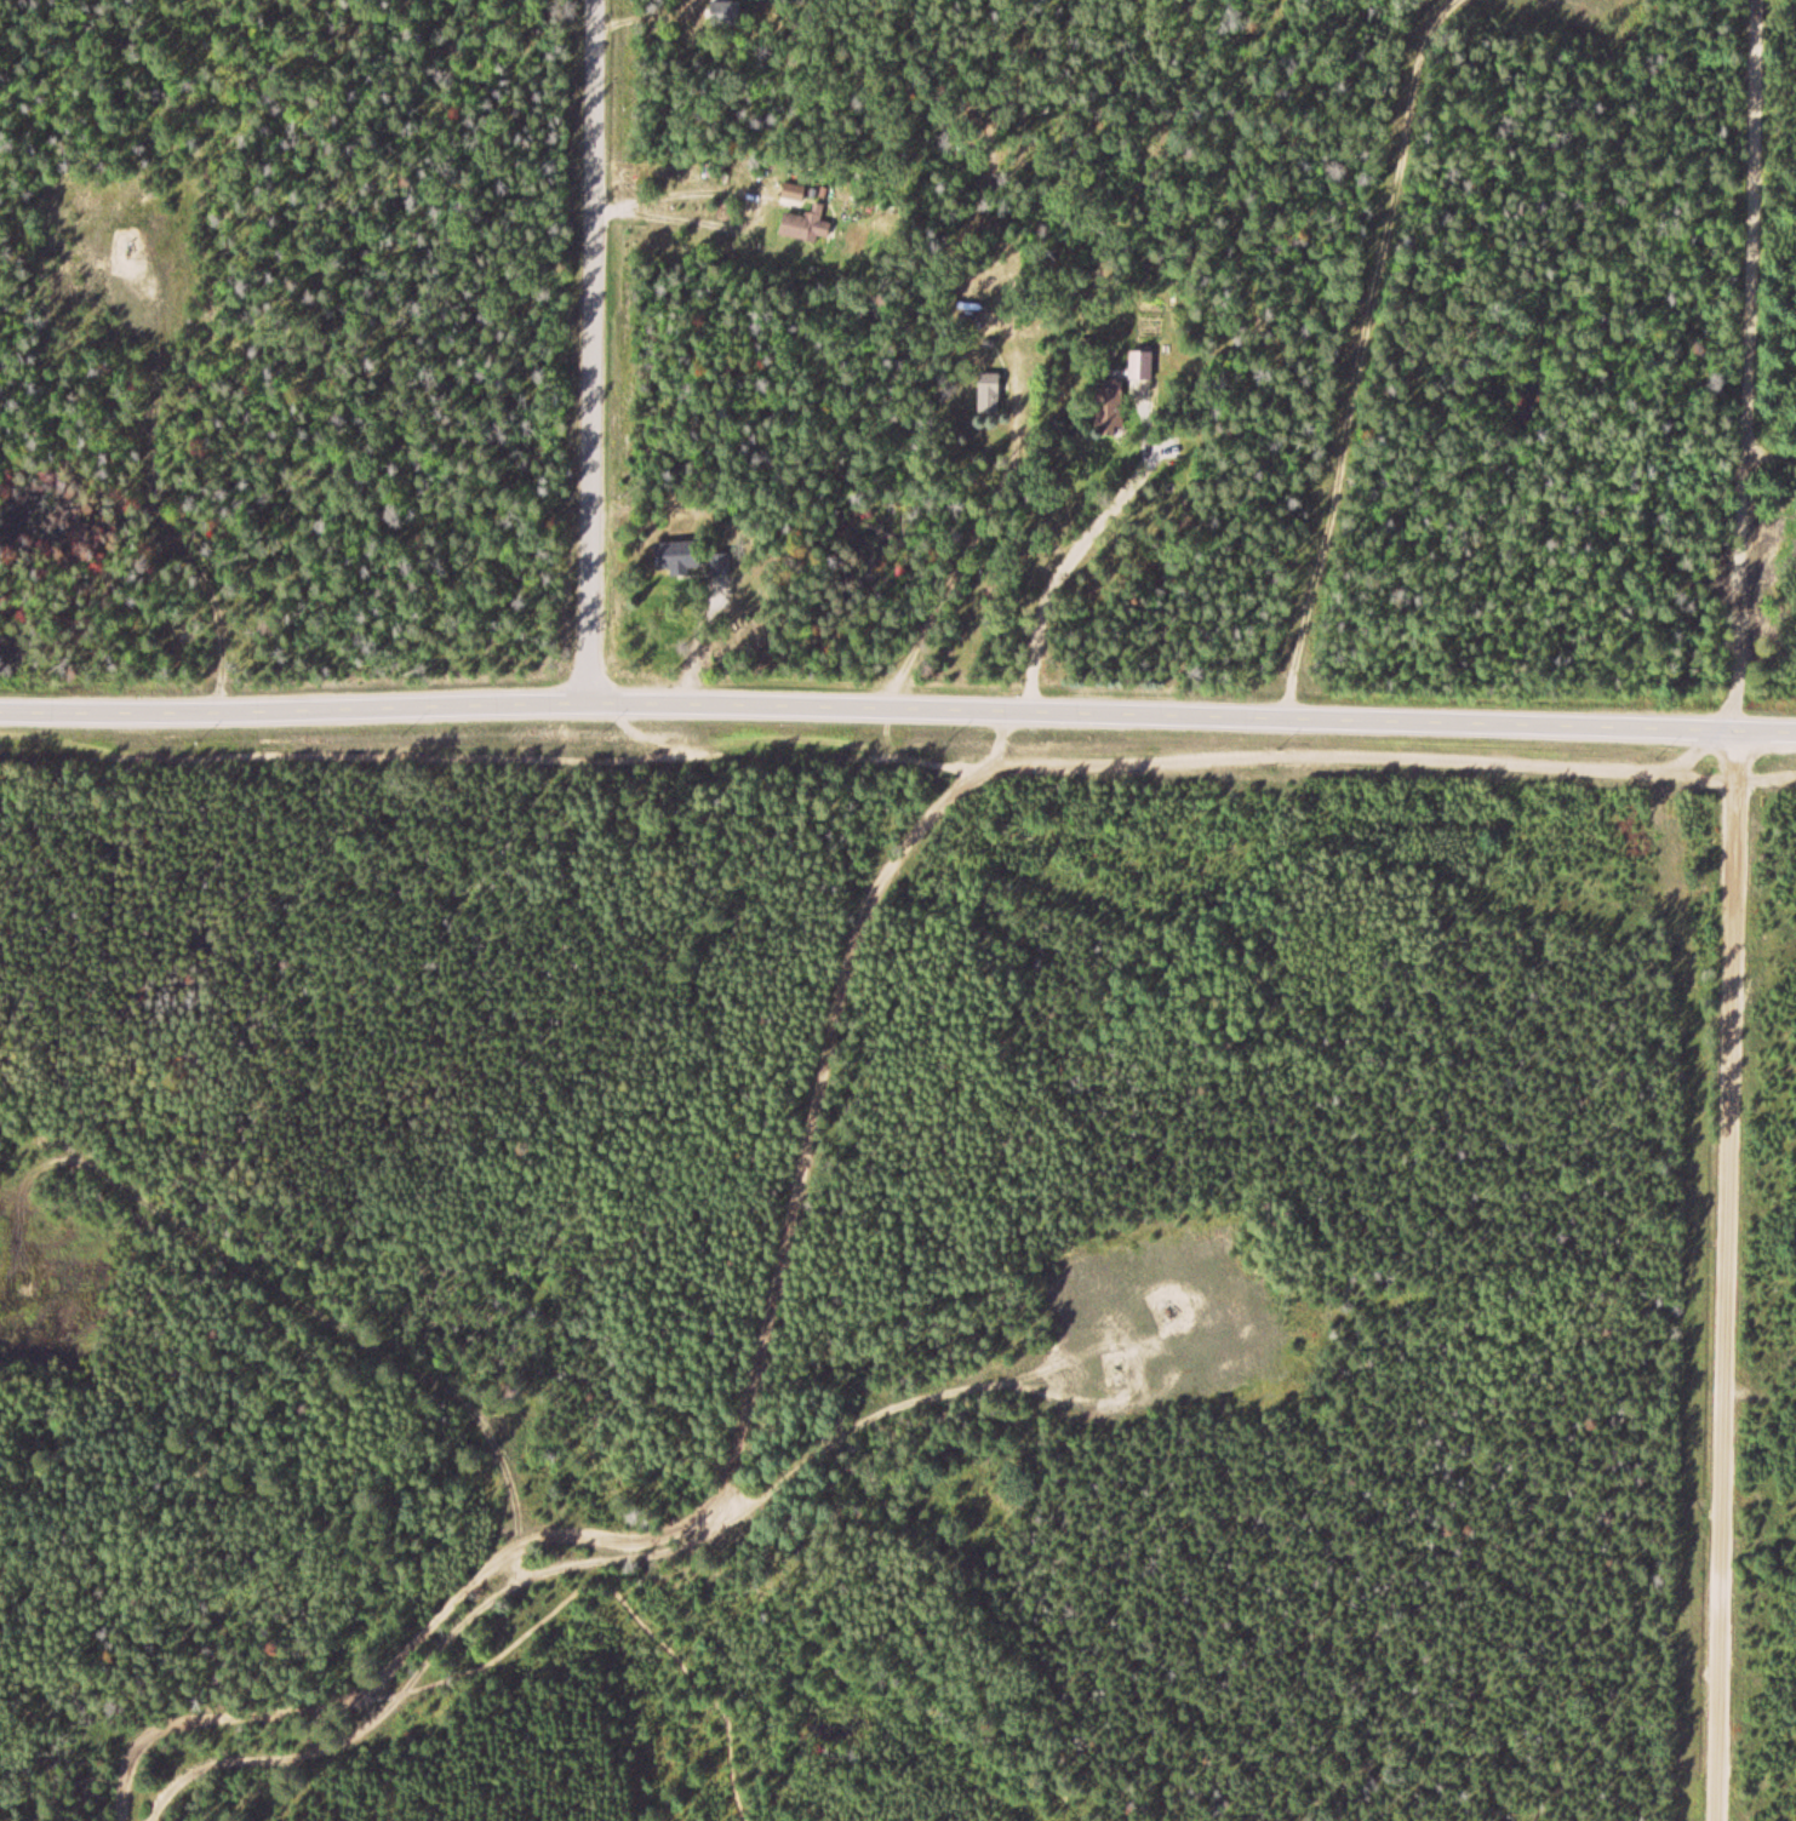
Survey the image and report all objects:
building: (793, 194)
building: (793, 228)
petroleum well: (133, 250)
road: (594, 355)
road: (1362, 359)
building: (1140, 365)
road: (1751, 366)
building: (986, 397)
building: (1106, 408)
road: (1772, 451)
building: (676, 559)
building: (717, 566)
road: (503, 711)
road: (1371, 725)
road: (1766, 734)
road: (868, 755)
road: (1727, 1277)
road: (282, 1288)
petroleum well: (1165, 1309)
building: (1122, 1386)
road: (902, 1403)
road: (738, 1418)
road: (511, 1552)
road: (451, 1676)
road: (115, 1806)

